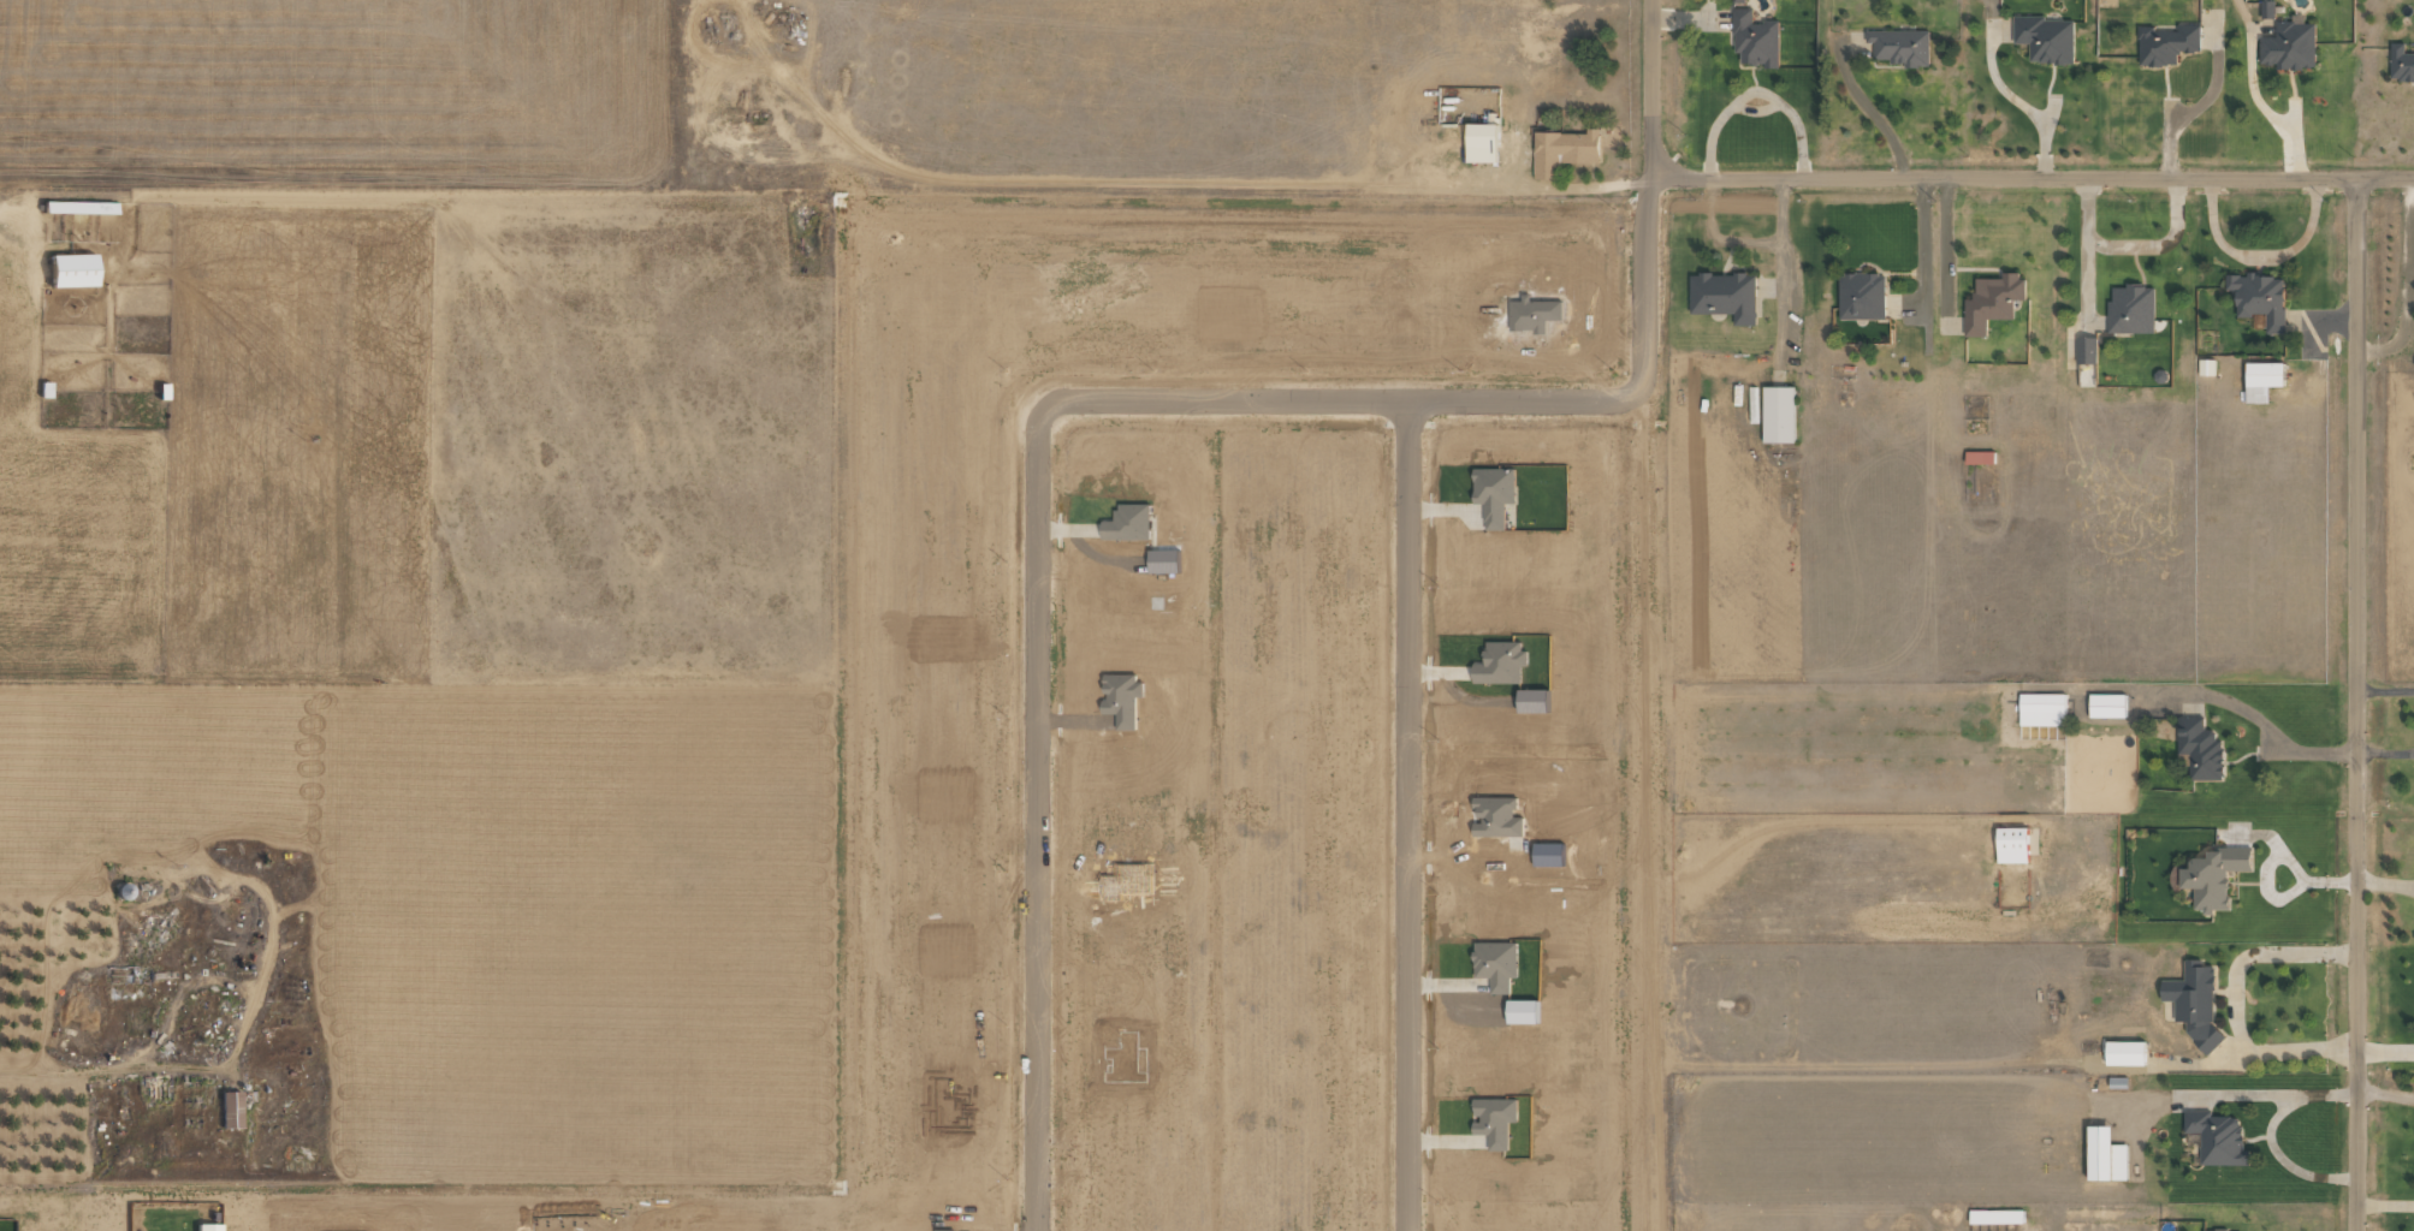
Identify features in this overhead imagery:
building: (1737, 1)
building: (2267, 8)
building: (1755, 38)
building: (2045, 38)
building: (2166, 43)
building: (2289, 44)
building: (1902, 46)
building: (2403, 65)
road: (1648, 100)
building: (1481, 142)
building: (1562, 150)
road: (2042, 178)
building: (69, 270)
building: (1725, 296)
building: (1861, 296)
building: (2259, 298)
building: (1991, 301)
building: (2130, 309)
building: (2087, 350)
building: (2206, 367)
building: (2261, 380)
building: (1778, 414)
building: (1979, 457)
road: (1406, 594)
road: (1037, 637)
building: (2041, 702)
road: (2353, 704)
building: (2106, 706)
building: (2200, 749)
building: (2011, 845)
building: (2213, 875)
building: (2194, 1003)
building: (2124, 1053)
building: (230, 1110)
building: (2216, 1138)
building: (2105, 1155)
building: (1995, 1217)
building: (206, 1227)
building: (2212, 1230)

